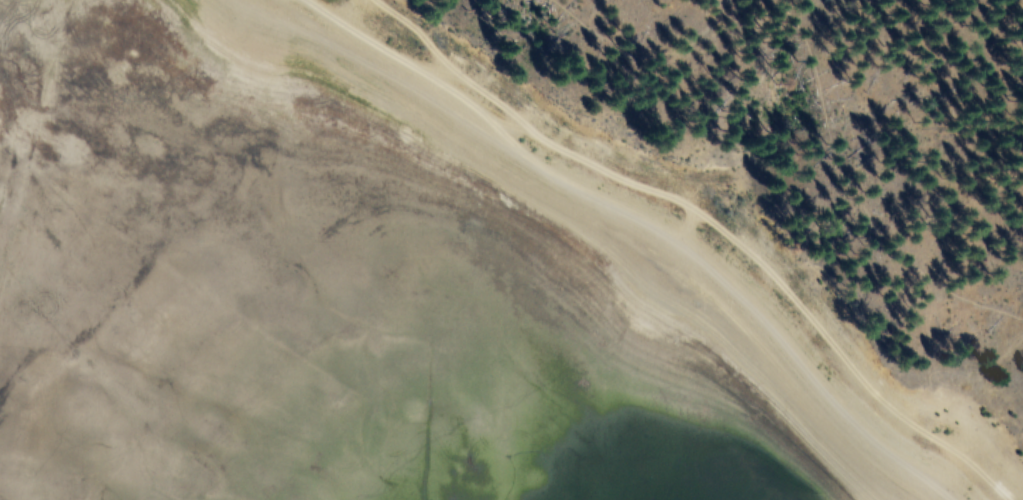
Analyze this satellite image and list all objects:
road: (815, 84)

